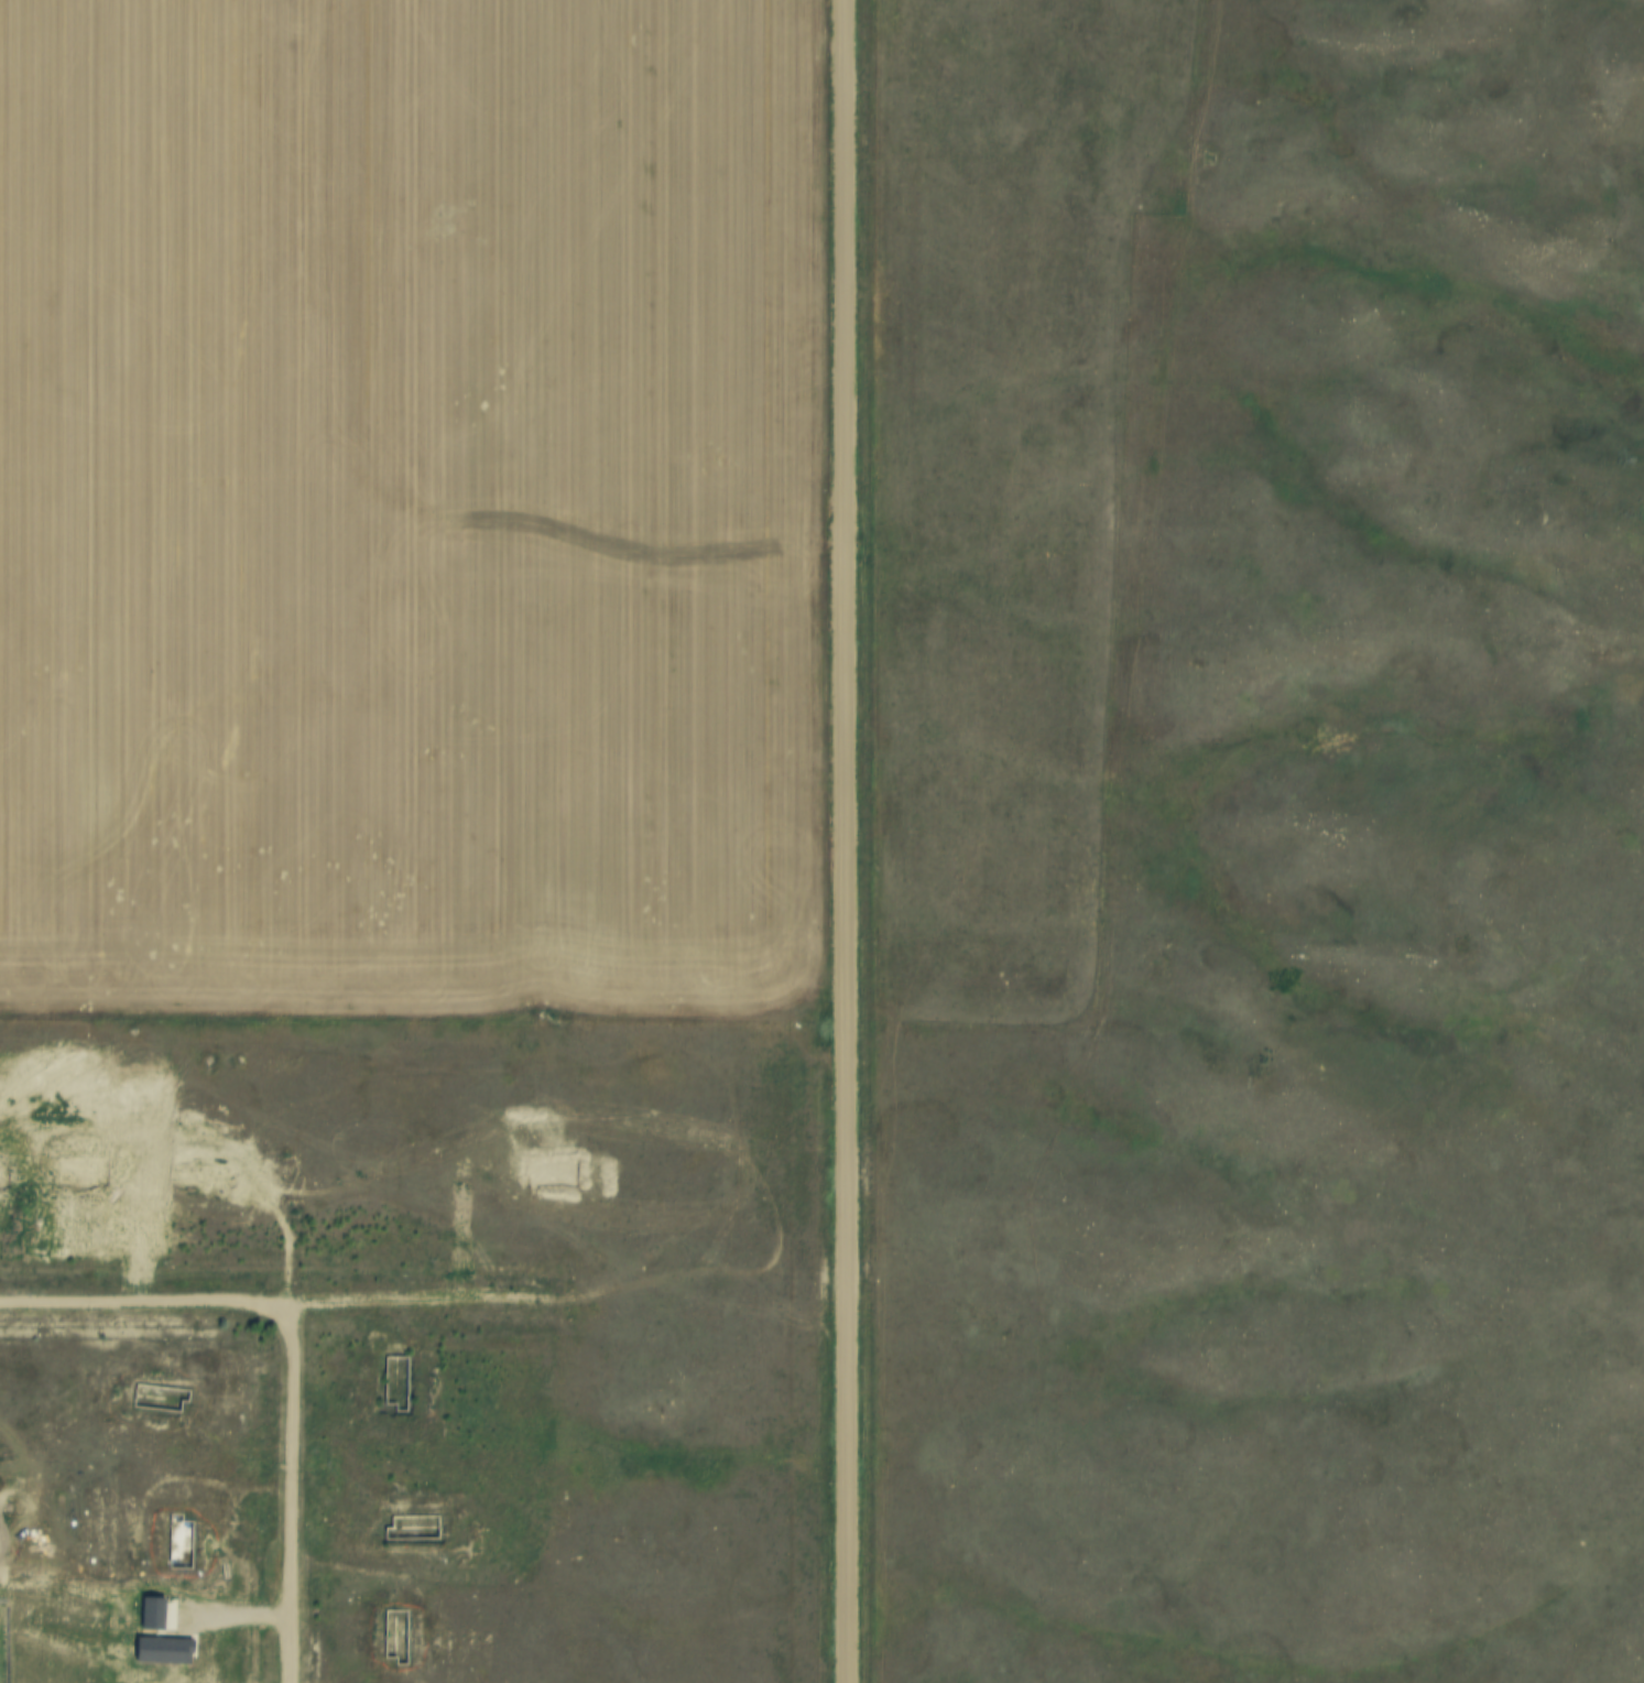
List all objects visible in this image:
road: (845, 841)
road: (140, 1299)
road: (280, 1491)

